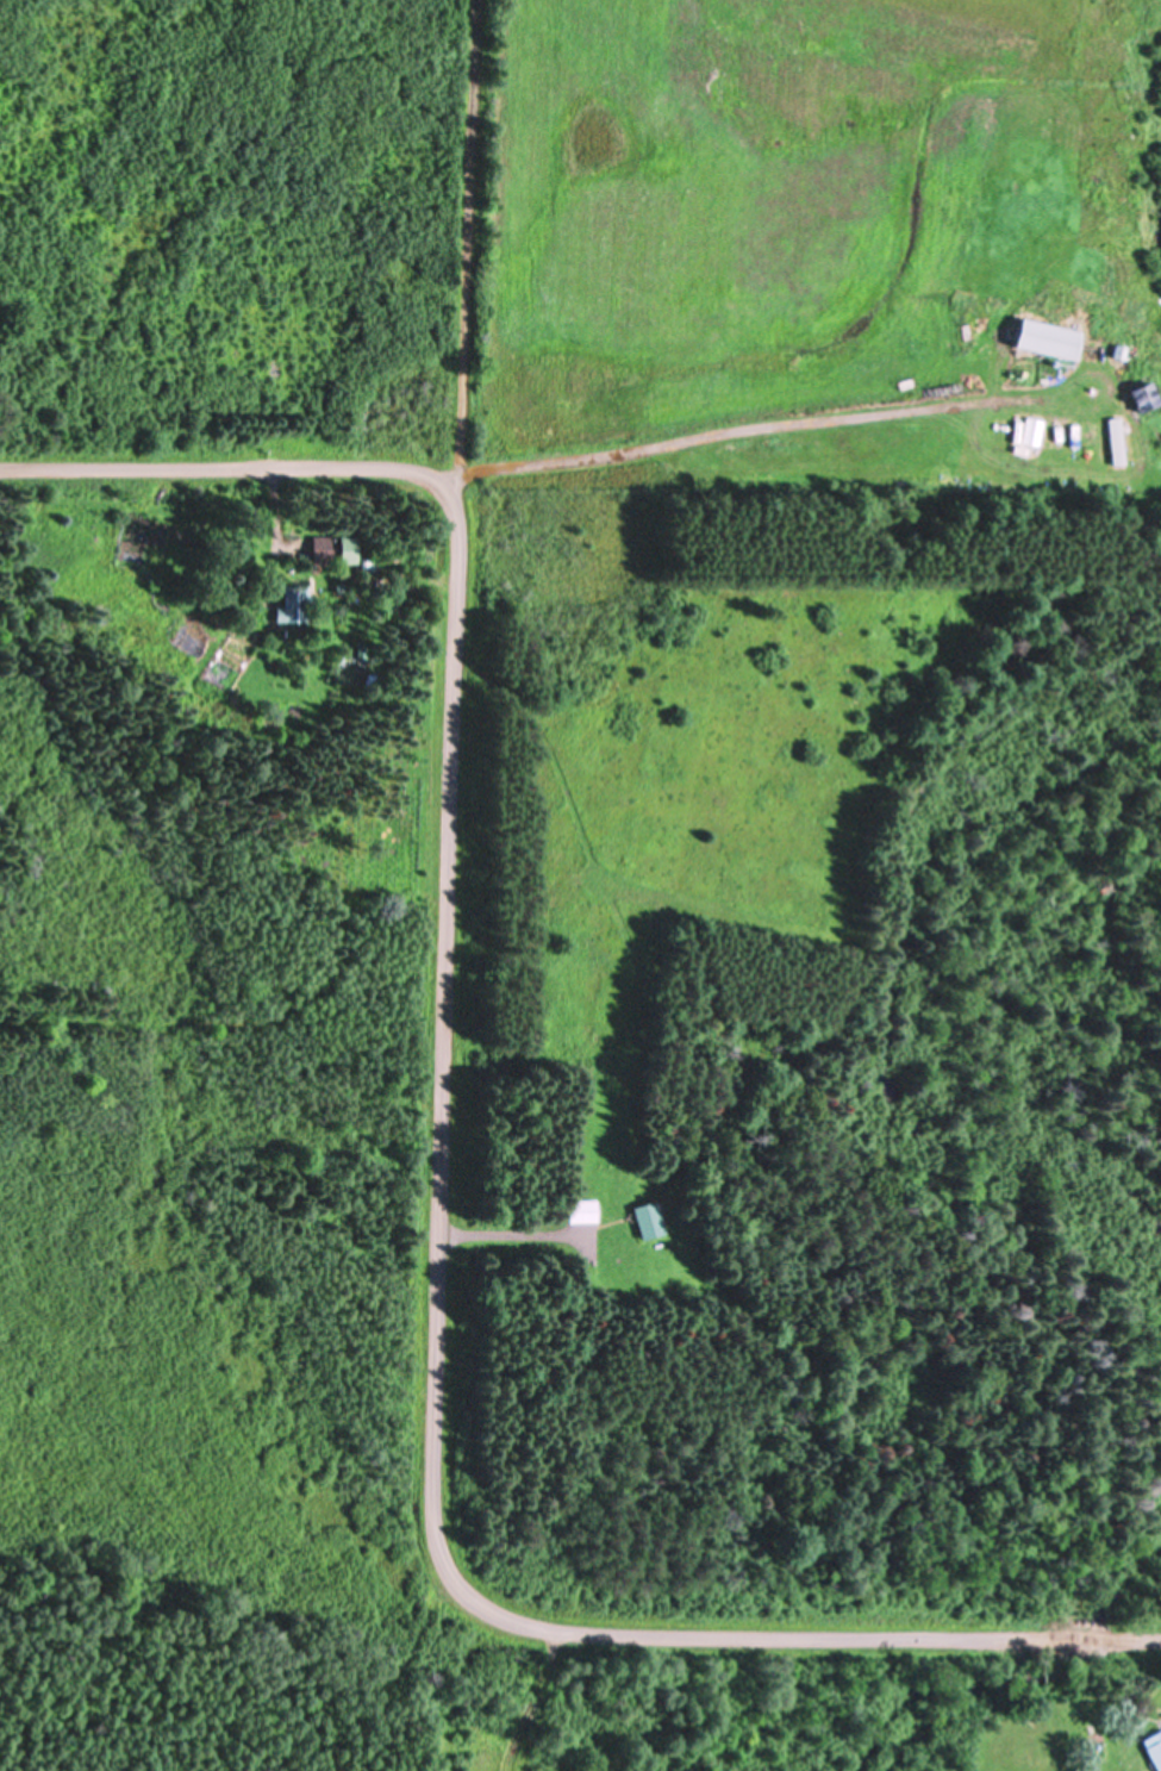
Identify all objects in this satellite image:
road: (462, 232)
building: (1048, 336)
building: (1143, 394)
building: (1050, 437)
road: (780, 456)
road: (226, 464)
building: (335, 548)
building: (294, 604)
building: (580, 1209)
building: (647, 1217)
road: (452, 1322)
road: (1130, 1617)
building: (1154, 1748)

